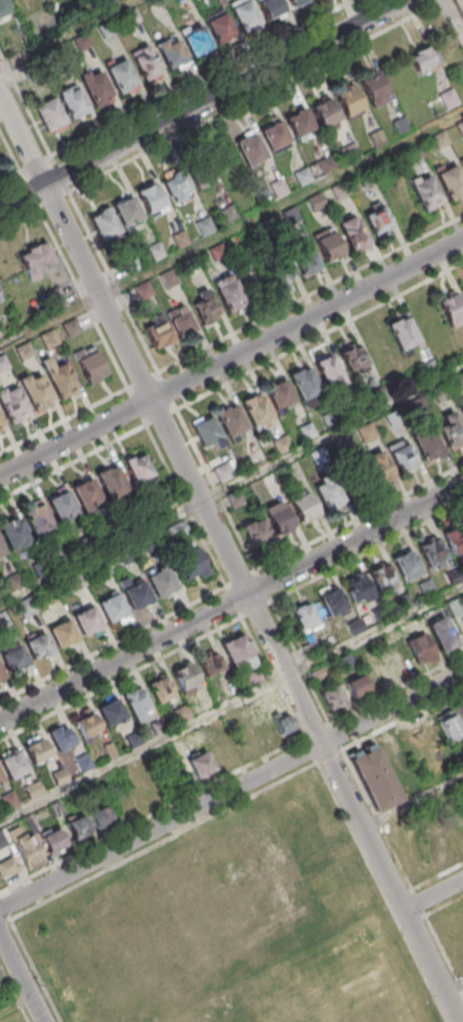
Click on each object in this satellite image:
building: (175, 0)
building: (296, 2)
building: (459, 6)
building: (4, 8)
building: (271, 8)
building: (244, 14)
road: (453, 18)
building: (219, 26)
road: (68, 35)
building: (194, 37)
building: (81, 41)
building: (171, 52)
building: (423, 59)
building: (146, 64)
building: (120, 75)
road: (200, 77)
building: (96, 86)
building: (375, 90)
road: (258, 96)
building: (449, 100)
building: (72, 101)
road: (25, 103)
building: (349, 103)
road: (200, 104)
building: (50, 115)
building: (326, 116)
building: (299, 123)
building: (402, 126)
building: (460, 129)
building: (276, 139)
building: (378, 140)
building: (441, 141)
road: (10, 149)
building: (251, 151)
building: (351, 153)
building: (415, 154)
road: (35, 162)
building: (461, 162)
building: (328, 165)
road: (60, 173)
road: (10, 175)
building: (213, 175)
building: (304, 178)
building: (367, 179)
building: (450, 181)
building: (176, 187)
road: (29, 188)
building: (280, 190)
building: (342, 192)
building: (425, 192)
building: (151, 199)
road: (54, 200)
building: (317, 203)
building: (127, 212)
building: (230, 215)
road: (19, 217)
building: (293, 217)
building: (379, 220)
building: (104, 224)
road: (246, 224)
building: (205, 228)
building: (268, 228)
building: (354, 233)
building: (181, 241)
building: (328, 244)
building: (156, 252)
building: (219, 254)
building: (304, 258)
building: (36, 261)
building: (132, 267)
building: (194, 268)
building: (278, 272)
building: (170, 280)
road: (115, 283)
building: (462, 288)
building: (144, 292)
building: (228, 292)
road: (311, 295)
building: (0, 298)
road: (83, 299)
building: (57, 300)
building: (206, 307)
building: (451, 309)
building: (180, 320)
building: (73, 329)
building: (158, 332)
building: (403, 335)
road: (320, 338)
building: (50, 341)
building: (25, 353)
building: (350, 356)
road: (231, 361)
building: (89, 364)
building: (4, 365)
building: (430, 369)
building: (329, 371)
building: (61, 380)
building: (461, 384)
building: (305, 385)
building: (36, 392)
road: (169, 392)
building: (280, 395)
building: (442, 395)
building: (382, 396)
building: (12, 406)
road: (137, 408)
building: (256, 411)
building: (462, 412)
building: (332, 420)
building: (394, 420)
road: (64, 422)
building: (230, 422)
building: (1, 425)
building: (452, 431)
building: (207, 432)
building: (308, 433)
building: (368, 434)
building: (344, 445)
building: (283, 446)
building: (429, 447)
building: (401, 455)
building: (320, 458)
road: (73, 464)
building: (375, 468)
building: (139, 469)
building: (111, 480)
road: (231, 488)
road: (218, 492)
building: (86, 493)
building: (332, 493)
building: (303, 505)
building: (62, 506)
building: (160, 510)
building: (278, 518)
building: (38, 519)
building: (139, 519)
road: (361, 520)
building: (256, 531)
building: (114, 532)
building: (179, 532)
building: (14, 534)
building: (454, 539)
building: (90, 545)
building: (152, 545)
building: (1, 552)
road: (368, 553)
building: (433, 553)
building: (66, 557)
building: (128, 557)
road: (230, 557)
building: (406, 565)
building: (191, 566)
building: (42, 570)
building: (103, 570)
building: (383, 577)
building: (16, 582)
building: (79, 583)
building: (162, 585)
road: (266, 587)
building: (358, 589)
building: (53, 595)
building: (0, 598)
building: (137, 598)
building: (332, 601)
road: (231, 603)
building: (28, 608)
building: (112, 610)
building: (305, 617)
building: (462, 621)
building: (88, 623)
building: (442, 634)
building: (63, 636)
building: (422, 648)
building: (39, 649)
building: (239, 652)
building: (393, 658)
building: (16, 662)
building: (210, 664)
building: (377, 673)
building: (2, 676)
building: (187, 678)
building: (356, 686)
building: (160, 690)
building: (331, 695)
building: (136, 703)
road: (231, 705)
building: (182, 714)
building: (118, 719)
building: (284, 723)
building: (448, 724)
building: (87, 725)
building: (60, 737)
building: (36, 749)
building: (394, 754)
building: (212, 759)
building: (13, 765)
building: (59, 776)
building: (375, 777)
building: (0, 781)
building: (33, 789)
road: (231, 790)
building: (9, 800)
road: (413, 801)
building: (462, 817)
building: (100, 818)
building: (78, 827)
building: (53, 841)
building: (1, 842)
building: (440, 845)
building: (26, 847)
building: (7, 867)
road: (434, 896)
building: (189, 918)
road: (21, 979)
road: (455, 992)
road: (16, 1009)

